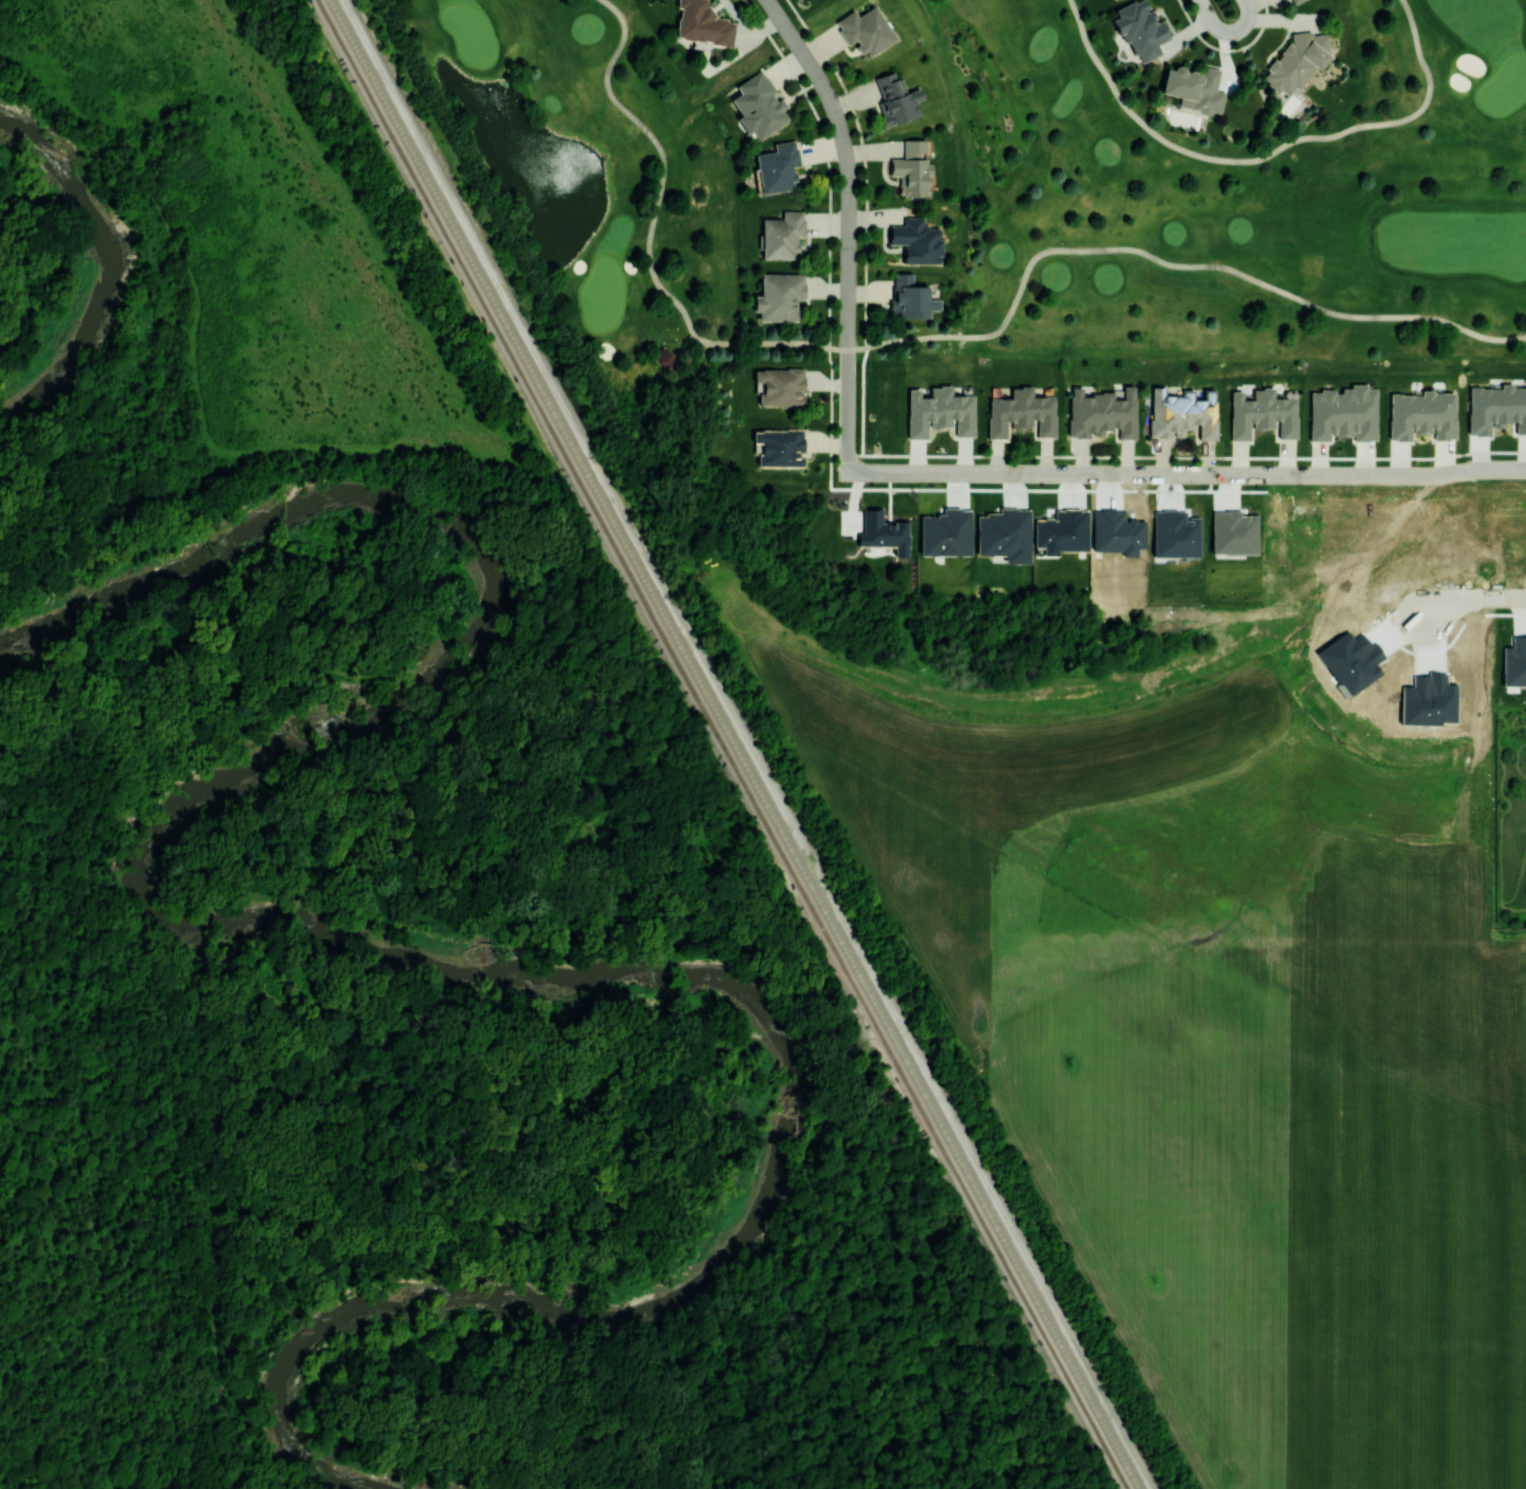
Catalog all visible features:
building: (702, 23)
building: (1140, 29)
building: (865, 30)
building: (1296, 61)
building: (1193, 88)
building: (896, 99)
building: (758, 106)
road: (1267, 155)
road: (664, 160)
building: (777, 167)
building: (911, 168)
park: (996, 203)
road: (848, 226)
building: (782, 235)
road: (368, 236)
building: (917, 241)
road: (1093, 250)
river: (106, 267)
building: (778, 296)
building: (910, 297)
road: (828, 305)
road: (680, 344)
building: (663, 359)
building: (780, 386)
building: (1496, 408)
building: (939, 412)
building: (1021, 413)
building: (1102, 413)
building: (1182, 413)
building: (1343, 413)
building: (1261, 414)
building: (1422, 414)
building: (779, 447)
road: (1216, 456)
road: (1510, 471)
road: (1066, 474)
road: (1389, 474)
building: (883, 532)
building: (945, 532)
building: (1061, 532)
building: (1232, 532)
road: (1475, 598)
park: (876, 647)
building: (1514, 661)
railway: (722, 744)
railway: (735, 744)
road: (100, 893)
river: (375, 951)

